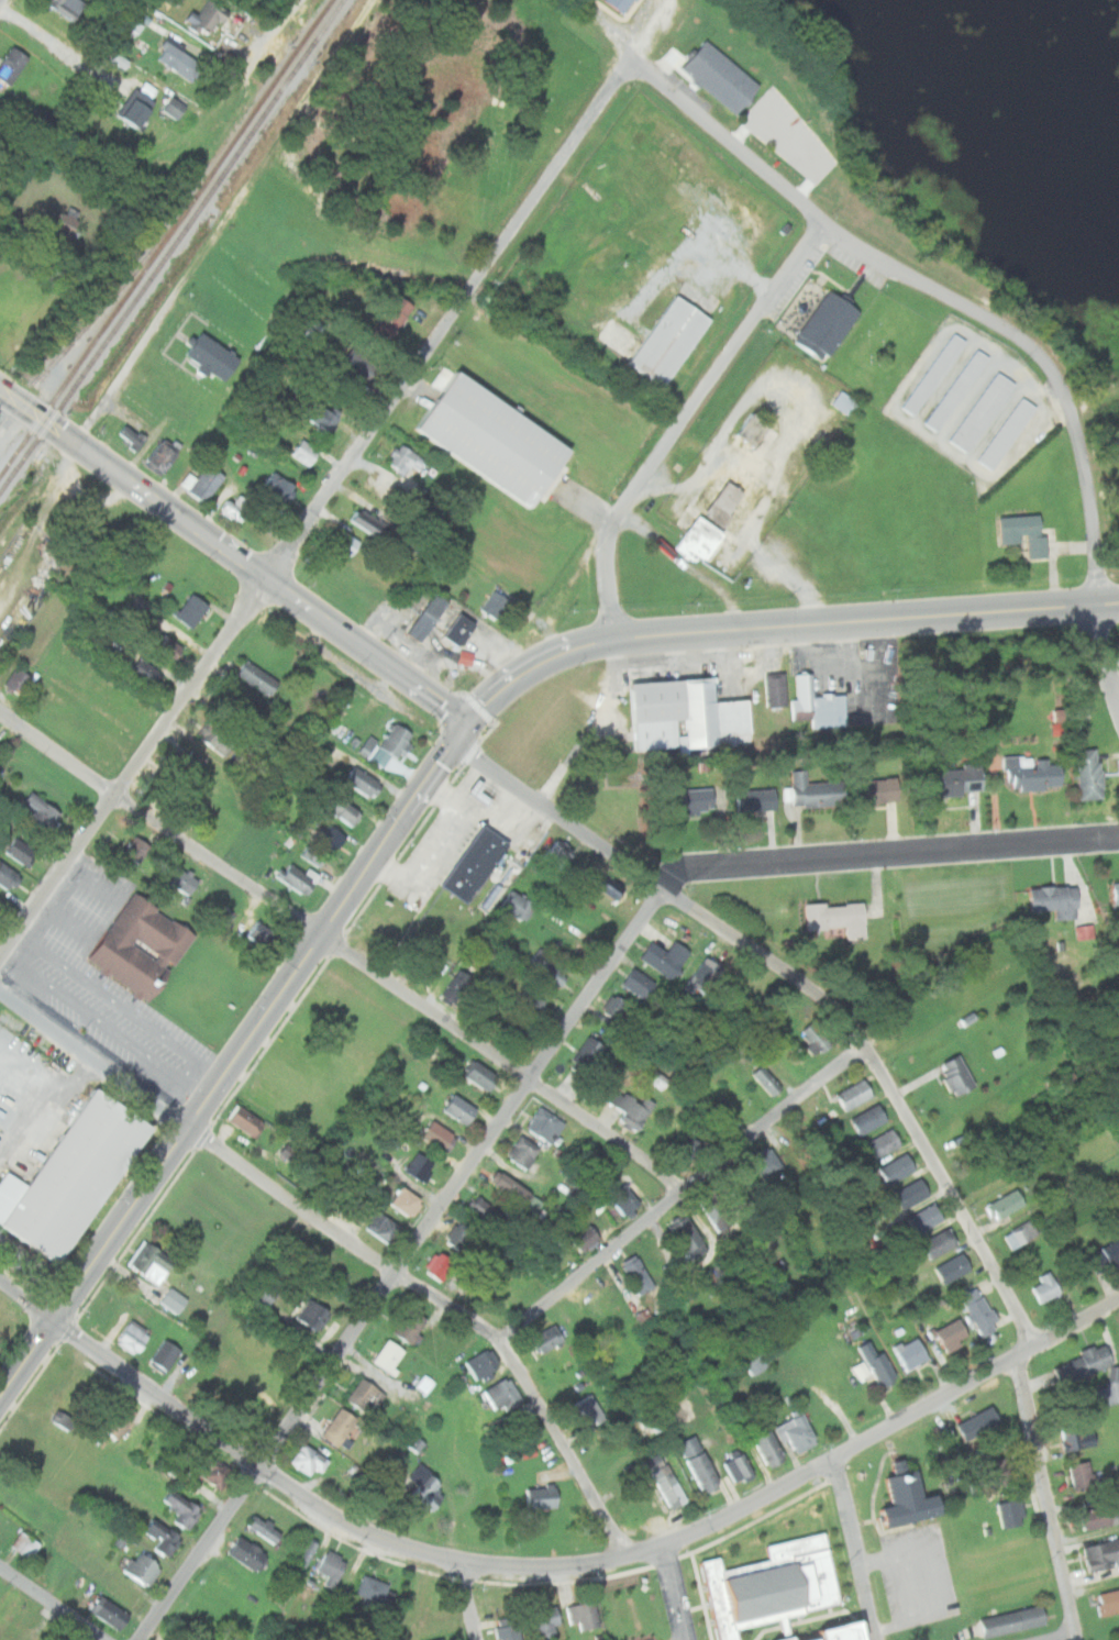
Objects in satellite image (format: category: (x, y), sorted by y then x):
road: (2, 2)
building: (169, 2)
building: (624, 4)
building: (70, 7)
building: (209, 16)
building: (134, 25)
building: (117, 59)
building: (182, 62)
building: (12, 65)
road: (256, 65)
building: (723, 77)
building: (175, 107)
building: (139, 108)
road: (733, 142)
building: (68, 223)
road: (230, 223)
railway: (166, 236)
railway: (170, 244)
railway: (134, 268)
road: (956, 303)
building: (395, 319)
building: (830, 324)
building: (307, 333)
building: (672, 340)
building: (213, 356)
railway: (51, 364)
building: (361, 365)
building: (935, 373)
railway: (35, 387)
road: (1094, 387)
building: (957, 389)
building: (841, 401)
road: (22, 407)
building: (984, 410)
building: (323, 417)
road: (687, 422)
building: (755, 429)
building: (1008, 432)
building: (131, 435)
building: (496, 437)
building: (306, 452)
building: (164, 456)
building: (406, 458)
building: (204, 481)
building: (279, 486)
building: (735, 494)
road: (317, 505)
building: (236, 506)
building: (369, 525)
building: (1027, 532)
building: (346, 542)
road: (1095, 543)
building: (711, 545)
road: (690, 564)
road: (261, 573)
building: (496, 603)
building: (192, 609)
building: (430, 617)
road: (866, 618)
building: (461, 629)
building: (169, 646)
building: (462, 656)
road: (532, 666)
building: (147, 669)
building: (258, 677)
building: (20, 680)
building: (777, 689)
building: (820, 703)
building: (233, 705)
building: (687, 713)
traffic signals: (472, 731)
building: (219, 735)
building: (398, 741)
traffic signals: (459, 743)
building: (364, 744)
road: (57, 750)
building: (190, 762)
building: (1032, 773)
building: (1090, 773)
building: (959, 779)
building: (364, 780)
building: (882, 789)
building: (818, 790)
building: (179, 799)
building: (705, 799)
building: (756, 799)
building: (345, 809)
building: (42, 810)
building: (330, 836)
building: (137, 849)
building: (20, 851)
building: (558, 853)
building: (313, 854)
building: (476, 863)
building: (7, 875)
building: (298, 877)
building: (185, 879)
building: (609, 888)
building: (1117, 890)
building: (1055, 898)
building: (2, 905)
building: (518, 905)
building: (838, 918)
building: (1082, 931)
building: (262, 934)
building: (141, 946)
building: (665, 957)
building: (545, 967)
building: (707, 975)
building: (638, 984)
building: (455, 986)
road: (807, 988)
road: (402, 989)
building: (532, 1001)
building: (613, 1007)
building: (513, 1029)
building: (812, 1039)
building: (587, 1056)
road: (235, 1067)
road: (531, 1071)
building: (481, 1075)
building: (956, 1075)
building: (769, 1078)
building: (854, 1094)
building: (631, 1108)
building: (462, 1109)
building: (721, 1111)
building: (241, 1119)
building: (867, 1119)
building: (546, 1124)
building: (441, 1137)
building: (883, 1143)
building: (690, 1148)
building: (525, 1152)
building: (766, 1164)
building: (421, 1167)
building: (897, 1167)
building: (74, 1176)
building: (519, 1190)
building: (910, 1193)
road: (683, 1195)
building: (621, 1198)
building: (408, 1201)
building: (1004, 1204)
building: (487, 1210)
building: (716, 1211)
building: (924, 1217)
building: (384, 1227)
building: (1019, 1233)
road: (351, 1237)
building: (462, 1237)
building: (579, 1237)
building: (690, 1237)
building: (939, 1242)
building: (1104, 1255)
building: (145, 1262)
building: (440, 1265)
building: (953, 1267)
building: (638, 1275)
building: (1044, 1287)
building: (265, 1293)
building: (169, 1298)
building: (489, 1300)
building: (600, 1308)
building: (979, 1309)
building: (312, 1314)
building: (411, 1326)
building: (953, 1333)
building: (130, 1336)
building: (550, 1338)
building: (911, 1353)
building: (388, 1354)
building: (160, 1355)
building: (1083, 1363)
building: (484, 1364)
building: (757, 1364)
building: (877, 1364)
building: (857, 1368)
building: (422, 1384)
building: (1108, 1388)
building: (367, 1395)
building: (500, 1395)
building: (591, 1410)
building: (63, 1419)
building: (114, 1420)
building: (511, 1421)
building: (979, 1421)
building: (341, 1426)
building: (797, 1433)
building: (1077, 1436)
building: (773, 1448)
building: (521, 1452)
building: (310, 1459)
building: (702, 1463)
building: (203, 1467)
building: (740, 1467)
building: (1082, 1473)
building: (994, 1474)
building: (668, 1480)
building: (428, 1487)
building: (545, 1496)
road: (1049, 1497)
building: (913, 1498)
building: (184, 1507)
building: (1012, 1511)
building: (1099, 1516)
building: (261, 1527)
building: (164, 1537)
building: (25, 1543)
road: (858, 1547)
building: (250, 1551)
building: (308, 1551)
building: (1103, 1553)
building: (334, 1565)
road: (550, 1565)
building: (144, 1567)
road: (933, 1580)
road: (905, 1586)
building: (376, 1587)
building: (772, 1587)
road: (678, 1592)
road: (469, 1598)
building: (1110, 1599)
road: (51, 1603)
building: (111, 1611)
building: (587, 1614)
building: (1016, 1619)
building: (550, 1621)
building: (511, 1627)
building: (844, 1635)
road: (1056, 1635)
building: (435, 1639)
building: (441, 1639)

